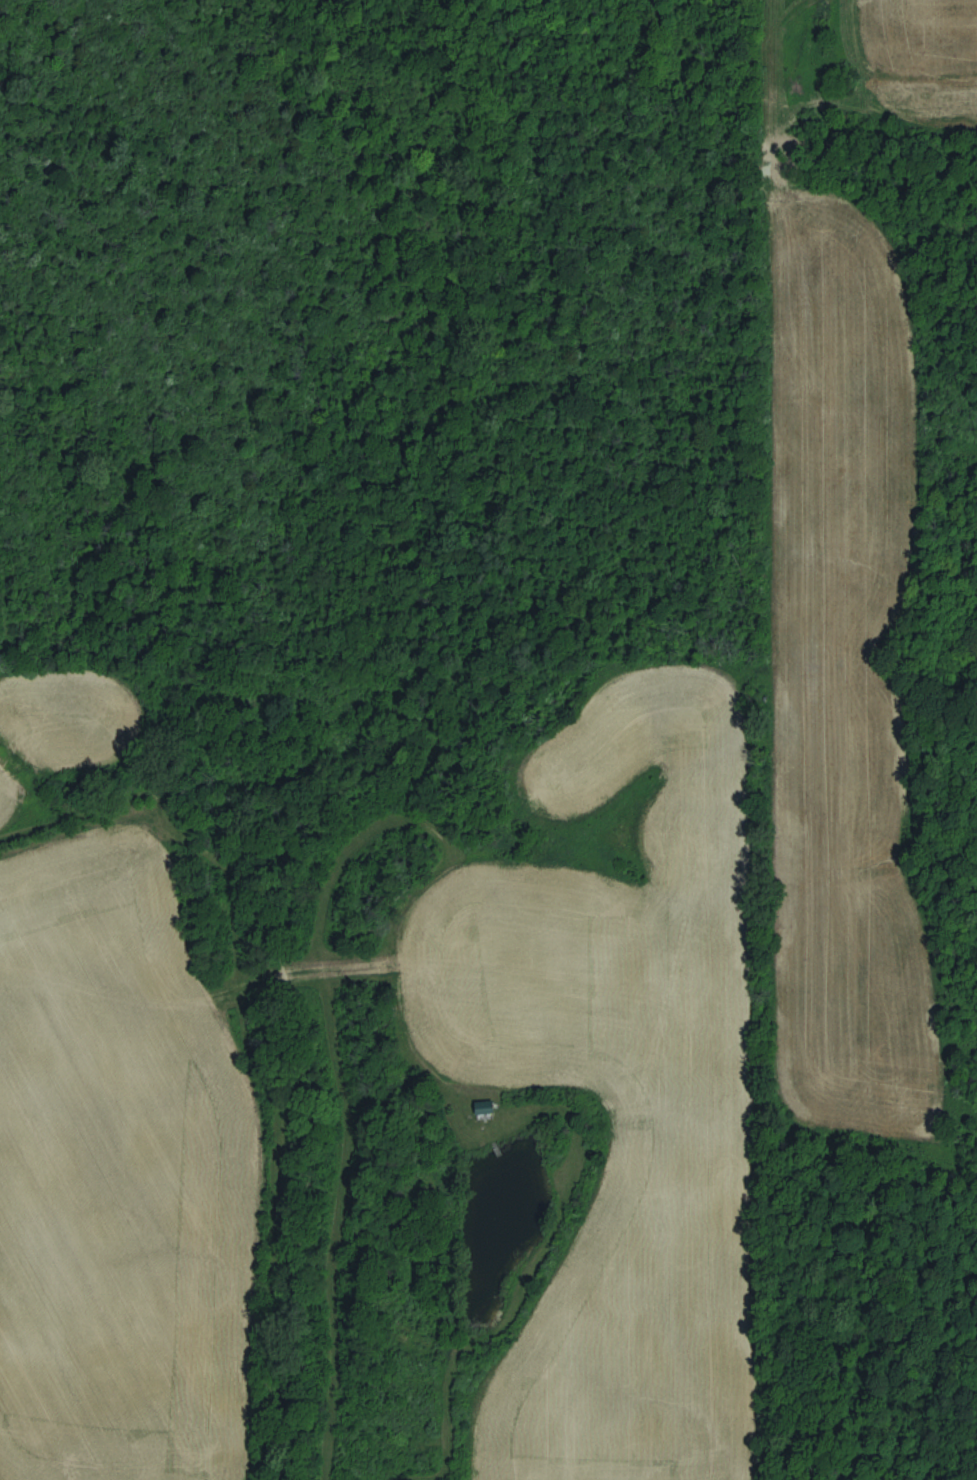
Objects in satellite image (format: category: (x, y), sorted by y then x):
building: (486, 1107)

